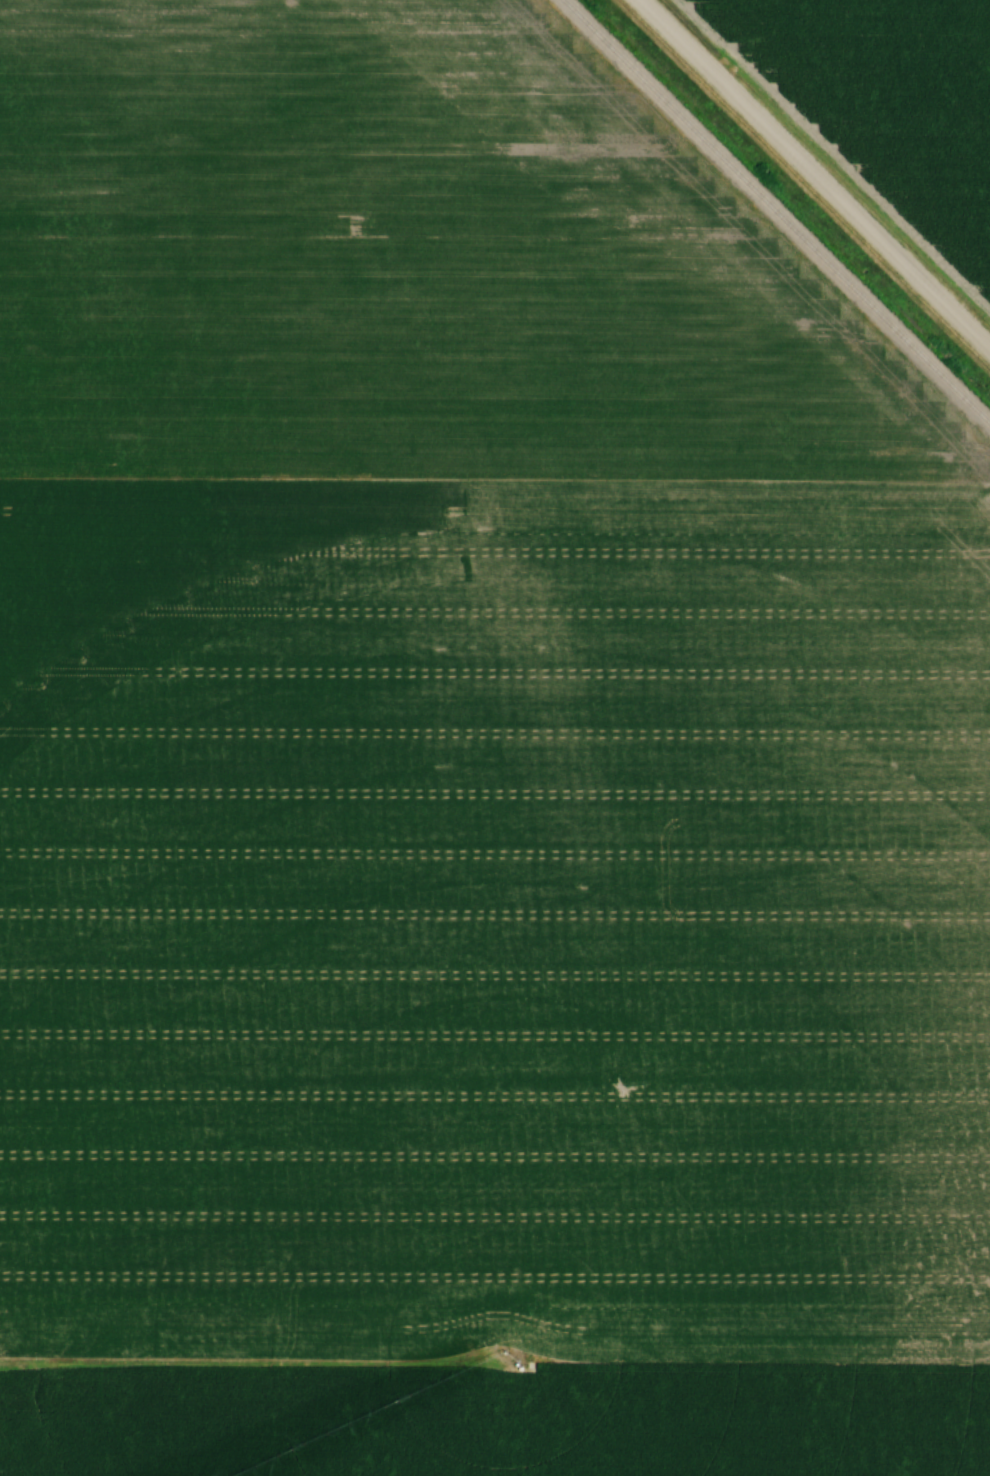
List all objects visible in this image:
road: (814, 173)
railway: (779, 208)

